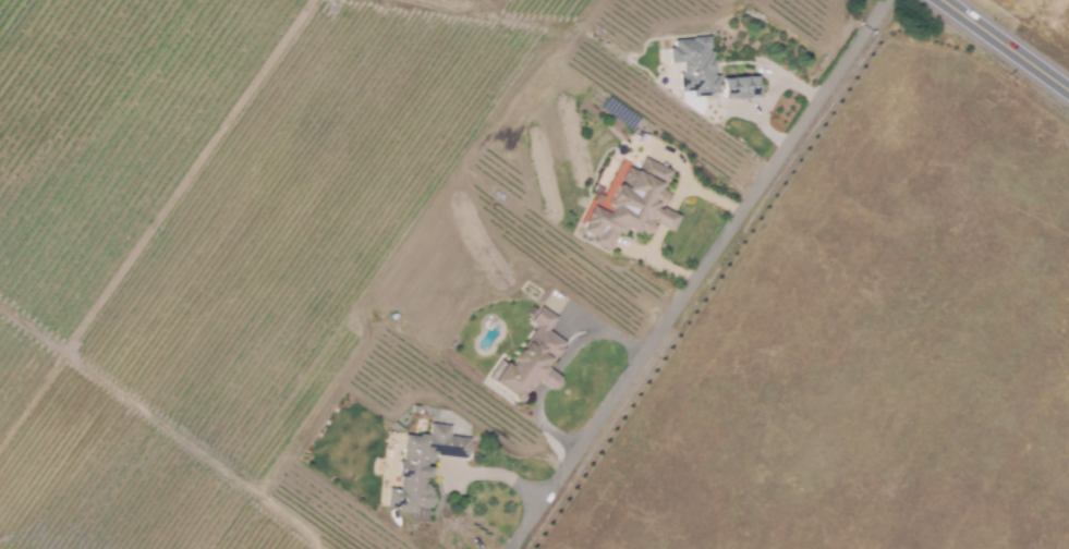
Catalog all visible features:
road: (1007, 44)
building: (707, 72)
road: (773, 96)
building: (632, 208)
road: (701, 273)
building: (532, 358)
road: (557, 370)
building: (416, 406)
building: (423, 465)
road: (497, 474)

